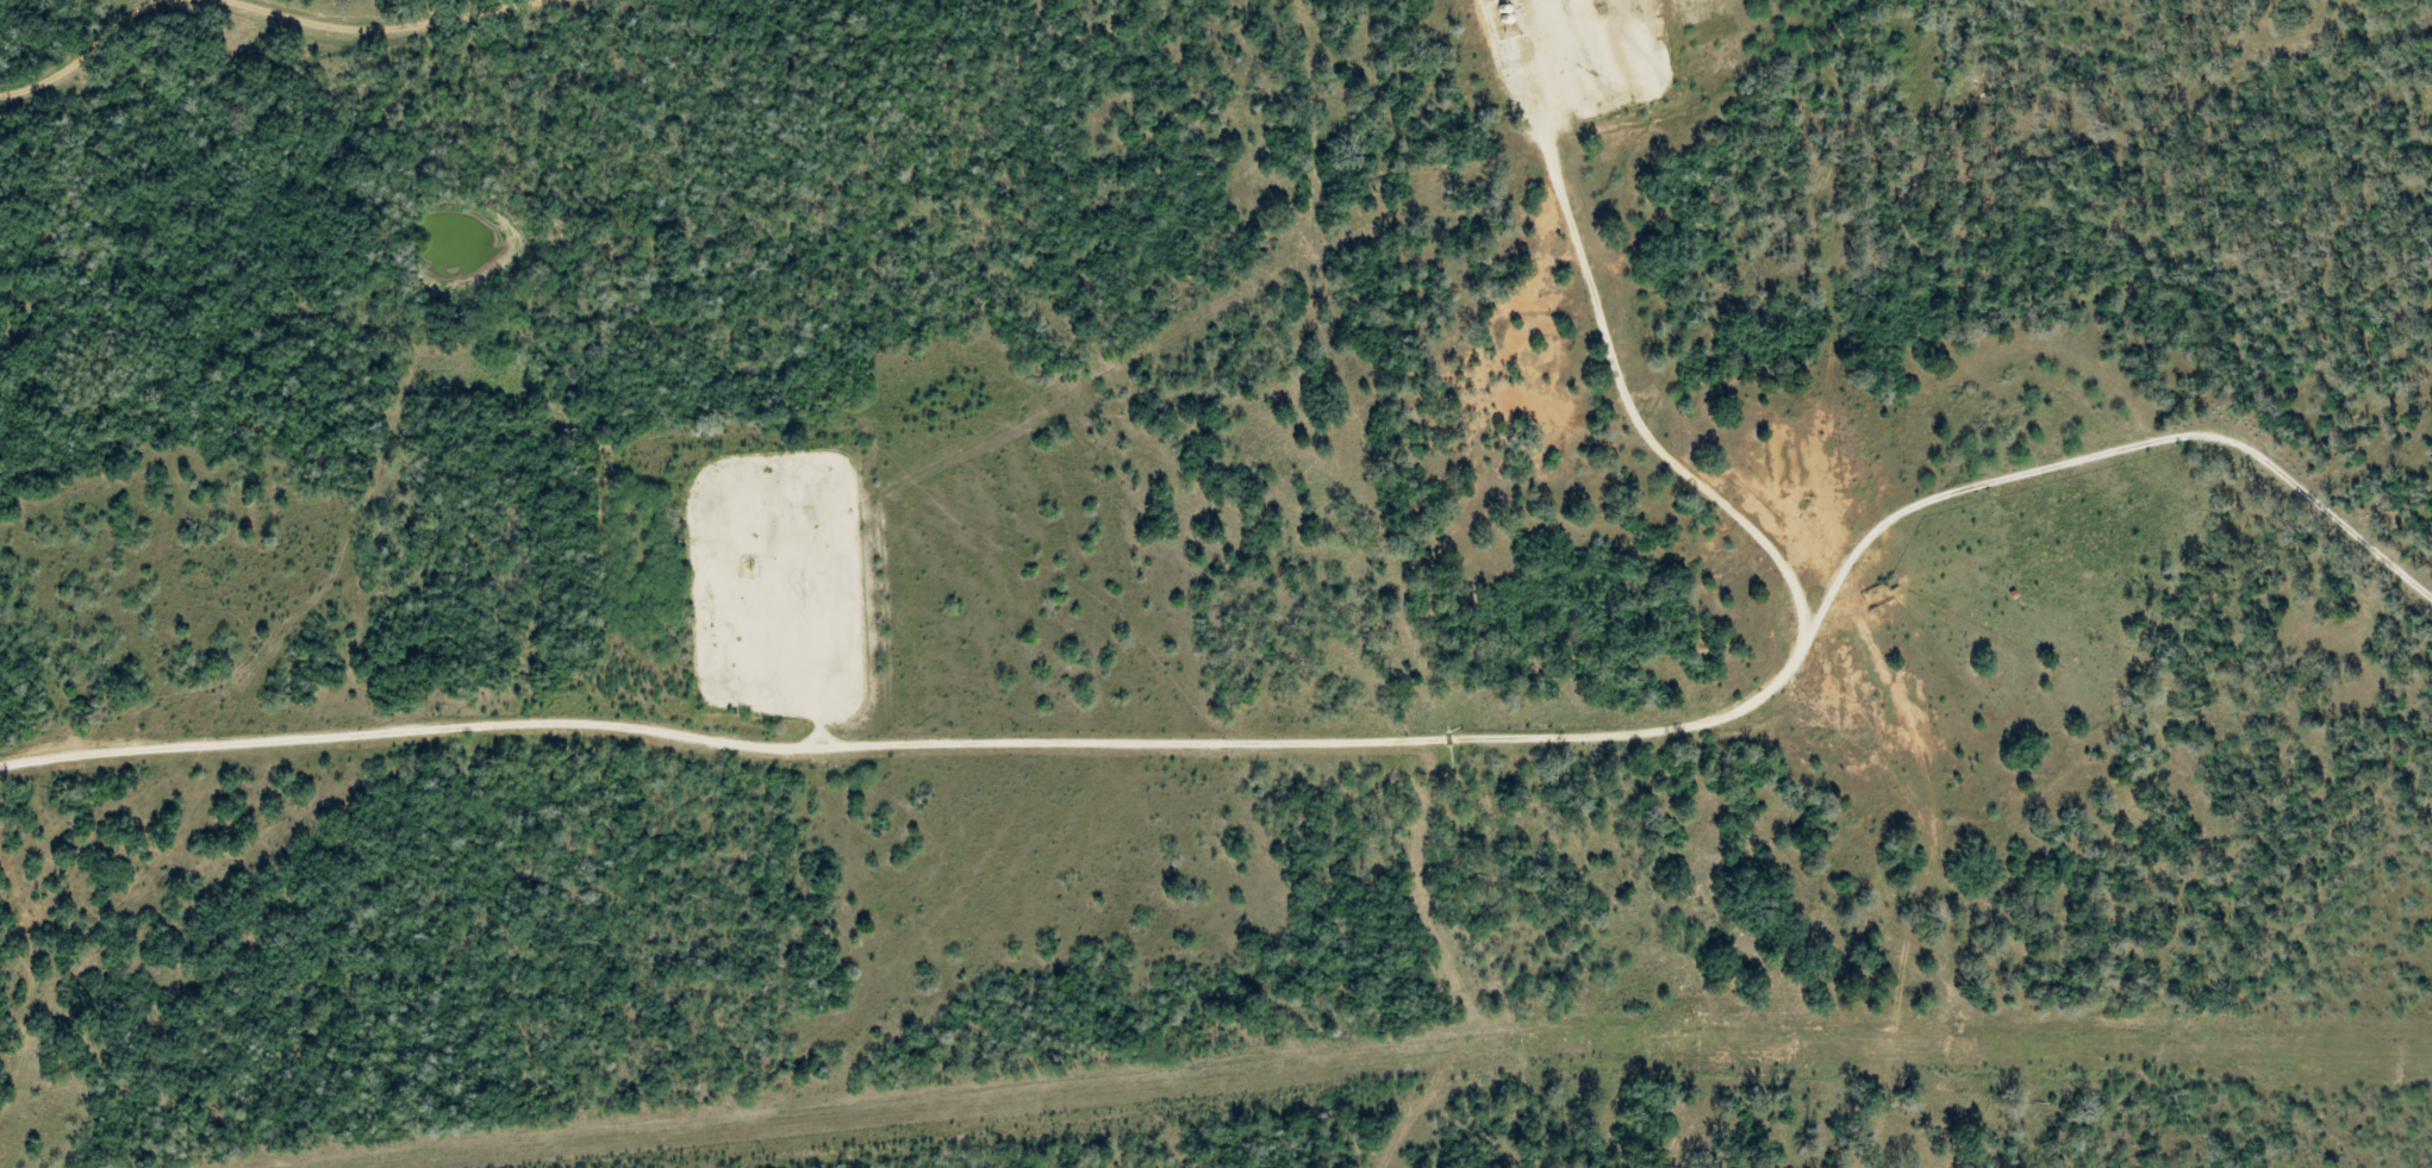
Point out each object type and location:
road: (848, 747)

